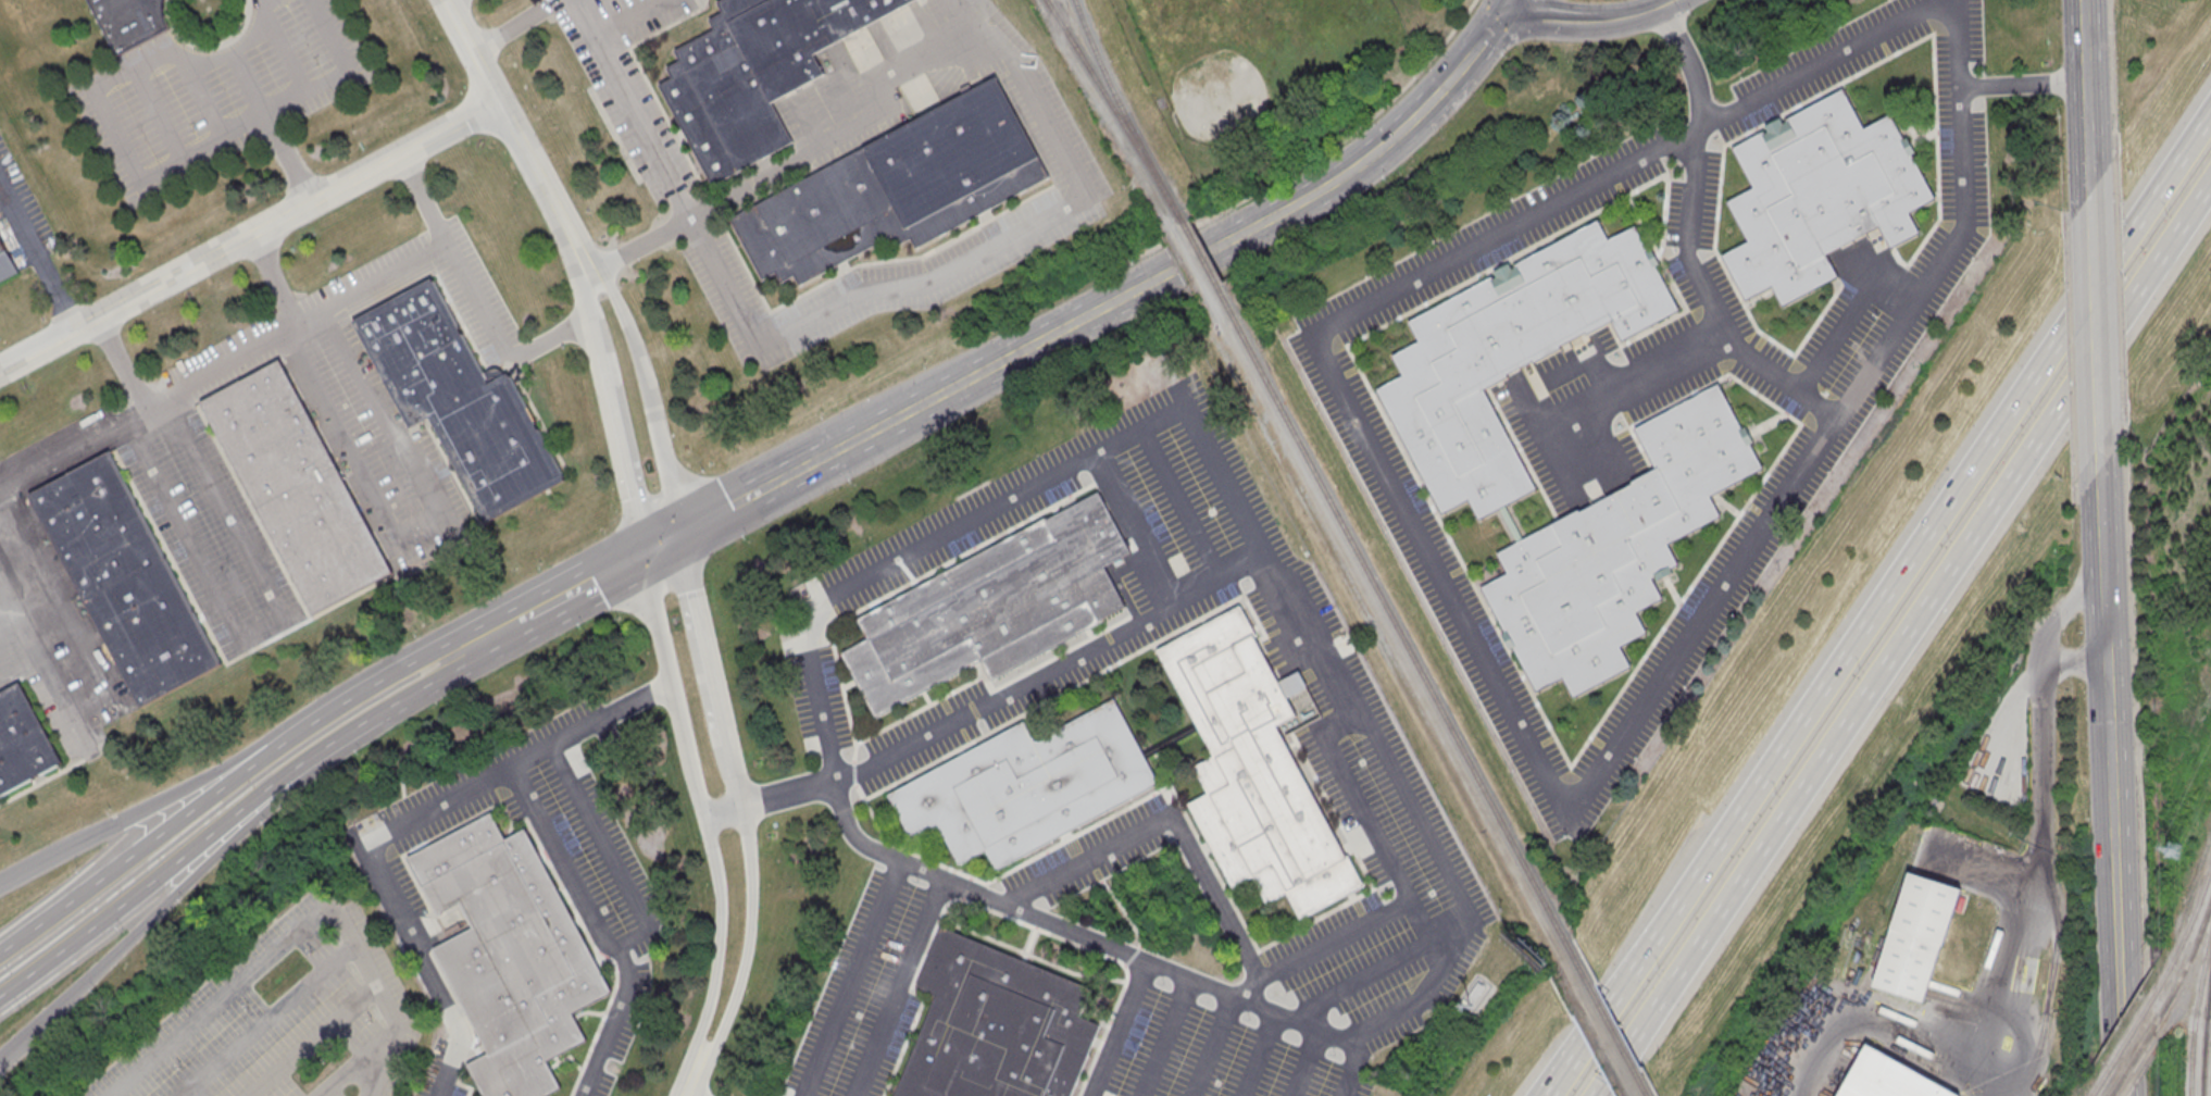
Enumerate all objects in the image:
road: (1507, 2)
traffic signals: (1507, 4)
road: (1635, 15)
road: (1549, 16)
building: (132, 20)
road: (512, 25)
road: (286, 53)
parking lot: (1856, 54)
building: (755, 73)
road: (2023, 84)
road: (2088, 95)
road: (204, 97)
railway: (1119, 103)
railway: (1113, 107)
road: (162, 114)
road: (271, 128)
road: (842, 135)
road: (514, 137)
road: (141, 177)
building: (897, 188)
building: (1820, 194)
road: (426, 198)
road: (2157, 198)
parking lot: (1694, 203)
parking lot: (22, 215)
road: (20, 221)
road: (248, 235)
road: (639, 246)
road: (2158, 249)
railway: (1197, 251)
building: (5, 262)
road: (275, 279)
road: (58, 292)
road: (862, 297)
road: (1114, 298)
road: (1707, 298)
road: (1847, 315)
road: (2096, 329)
parking lot: (1604, 339)
building: (1510, 354)
road: (1583, 360)
road: (122, 363)
road: (1628, 372)
parking lot: (1570, 377)
road: (198, 382)
road: (646, 397)
building: (459, 399)
road: (610, 414)
road: (1598, 420)
road: (1547, 439)
parking lot: (1564, 452)
road: (1620, 460)
road: (1211, 470)
building: (297, 487)
road: (0, 490)
parking lot: (1177, 497)
road: (1183, 508)
road: (416, 524)
road: (1137, 531)
parking lot: (208, 533)
traffic signals: (677, 534)
road: (659, 544)
building: (1616, 547)
traffic signals: (640, 553)
parking lot: (1429, 557)
building: (124, 577)
parking lot: (1713, 596)
road: (1879, 605)
railway: (1386, 606)
building: (991, 607)
road: (540, 608)
road: (15, 612)
road: (45, 620)
road: (261, 627)
road: (1670, 656)
road: (2109, 660)
road: (2075, 661)
road: (52, 683)
road: (396, 693)
road: (986, 706)
road: (1849, 711)
building: (22, 742)
road: (528, 759)
building: (1253, 769)
road: (220, 772)
building: (1027, 785)
road: (214, 797)
road: (2041, 807)
road: (738, 809)
road: (700, 814)
road: (1421, 819)
road: (601, 837)
road: (1185, 839)
road: (370, 845)
power tower: (2171, 851)
road: (557, 856)
road: (175, 859)
road: (389, 890)
road: (175, 894)
railway: (2187, 927)
road: (299, 929)
building: (1916, 935)
road: (629, 938)
road: (615, 951)
building: (509, 952)
railway: (2188, 960)
parking lot: (377, 966)
parking lot: (1364, 971)
road: (2126, 973)
road: (1373, 974)
road: (855, 976)
road: (432, 977)
road: (898, 985)
parking lot: (872, 988)
building: (1476, 993)
railway: (2209, 1006)
railway: (1601, 1011)
road: (1600, 1014)
railway: (2196, 1016)
road: (1392, 1017)
road: (268, 1020)
parking lot: (257, 1022)
road: (1869, 1024)
building: (996, 1025)
road: (1120, 1026)
road: (605, 1031)
road: (1165, 1036)
railway: (2206, 1036)
road: (313, 1041)
railway: (2125, 1041)
road: (1212, 1045)
road: (1258, 1054)
parking lot: (1212, 1056)
railway: (2133, 1056)
road: (359, 1061)
road: (1304, 1061)
parking lot: (387, 1062)
road: (448, 1067)
road: (1349, 1068)
road: (1985, 1076)
building: (1887, 1078)
road: (685, 1086)

